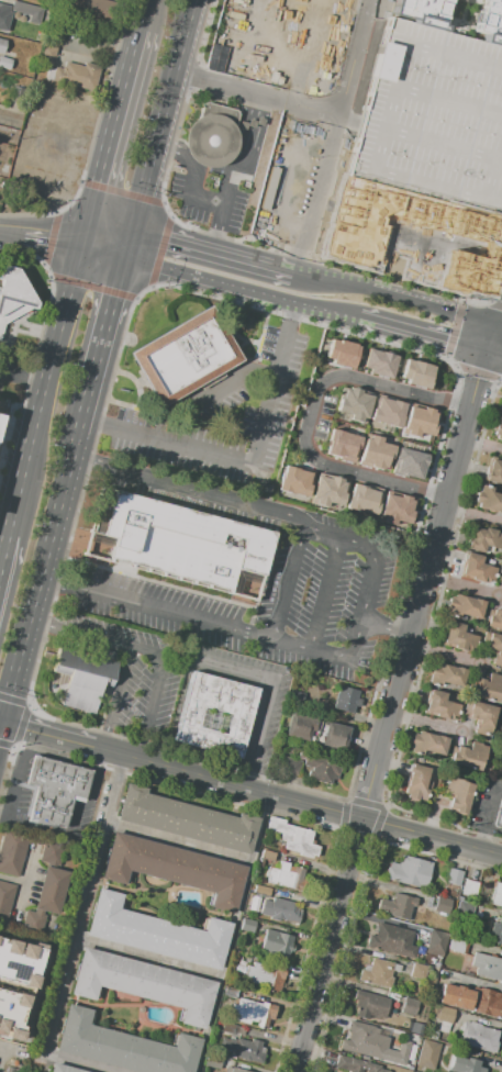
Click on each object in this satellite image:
building: (16, 0)
building: (35, 1)
road: (144, 1)
building: (91, 8)
building: (27, 11)
building: (416, 11)
building: (3, 19)
building: (488, 21)
building: (2, 45)
building: (46, 53)
building: (4, 63)
building: (80, 75)
road: (226, 87)
building: (16, 94)
road: (163, 116)
building: (433, 118)
parking lot: (433, 118)
road: (112, 120)
building: (214, 136)
road: (171, 145)
road: (235, 172)
building: (289, 187)
road: (188, 193)
road: (12, 226)
road: (219, 231)
traffic signals: (132, 233)
road: (53, 234)
road: (107, 235)
traffic signals: (81, 237)
road: (129, 245)
road: (210, 252)
traffic signals: (125, 257)
building: (13, 297)
road: (395, 298)
road: (290, 300)
road: (290, 311)
traffic signals: (501, 325)
road: (105, 331)
road: (495, 337)
traffic signals: (448, 339)
building: (339, 350)
traffic signals: (490, 350)
building: (182, 355)
building: (378, 361)
building: (415, 371)
traffic signals: (483, 376)
road: (23, 377)
road: (232, 377)
road: (45, 388)
building: (352, 403)
building: (0, 405)
road: (312, 412)
building: (386, 412)
building: (420, 421)
road: (92, 422)
building: (499, 428)
building: (342, 445)
building: (375, 455)
building: (408, 461)
road: (88, 464)
road: (246, 464)
building: (494, 471)
building: (293, 479)
building: (327, 490)
building: (362, 500)
building: (488, 500)
building: (397, 507)
road: (283, 515)
building: (484, 539)
building: (183, 544)
road: (4, 556)
road: (43, 563)
building: (477, 569)
building: (501, 576)
road: (286, 581)
road: (461, 585)
road: (326, 594)
building: (465, 606)
building: (493, 618)
road: (41, 624)
road: (254, 637)
building: (457, 637)
building: (493, 647)
road: (153, 652)
road: (232, 670)
building: (447, 674)
building: (82, 675)
road: (118, 688)
building: (488, 688)
building: (297, 699)
building: (345, 700)
building: (438, 705)
road: (392, 711)
building: (215, 716)
building: (480, 716)
road: (0, 723)
traffic signals: (1, 724)
road: (0, 725)
road: (260, 727)
building: (302, 727)
road: (47, 735)
building: (335, 736)
road: (103, 739)
building: (428, 744)
road: (144, 751)
building: (470, 756)
building: (290, 766)
building: (322, 770)
building: (501, 773)
road: (246, 781)
building: (417, 783)
building: (54, 790)
building: (458, 794)
road: (298, 803)
building: (499, 814)
building: (186, 819)
building: (292, 837)
road: (176, 841)
building: (11, 853)
building: (55, 853)
building: (174, 868)
building: (410, 871)
building: (286, 876)
building: (454, 878)
building: (469, 889)
building: (260, 891)
building: (495, 895)
building: (47, 896)
building: (5, 900)
building: (443, 905)
building: (397, 906)
building: (279, 909)
building: (465, 909)
building: (247, 925)
building: (495, 931)
building: (156, 933)
road: (231, 934)
road: (72, 938)
building: (392, 940)
building: (435, 942)
building: (276, 943)
building: (457, 945)
road: (146, 959)
building: (487, 967)
building: (419, 971)
building: (377, 973)
building: (264, 976)
building: (14, 984)
building: (144, 984)
building: (472, 1001)
building: (370, 1005)
building: (410, 1006)
building: (256, 1013)
building: (445, 1015)
building: (227, 1028)
building: (416, 1028)
building: (480, 1037)
building: (372, 1045)
building: (123, 1046)
building: (245, 1049)
building: (427, 1054)
building: (357, 1065)
building: (464, 1065)
building: (63, 1069)
building: (236, 1070)

